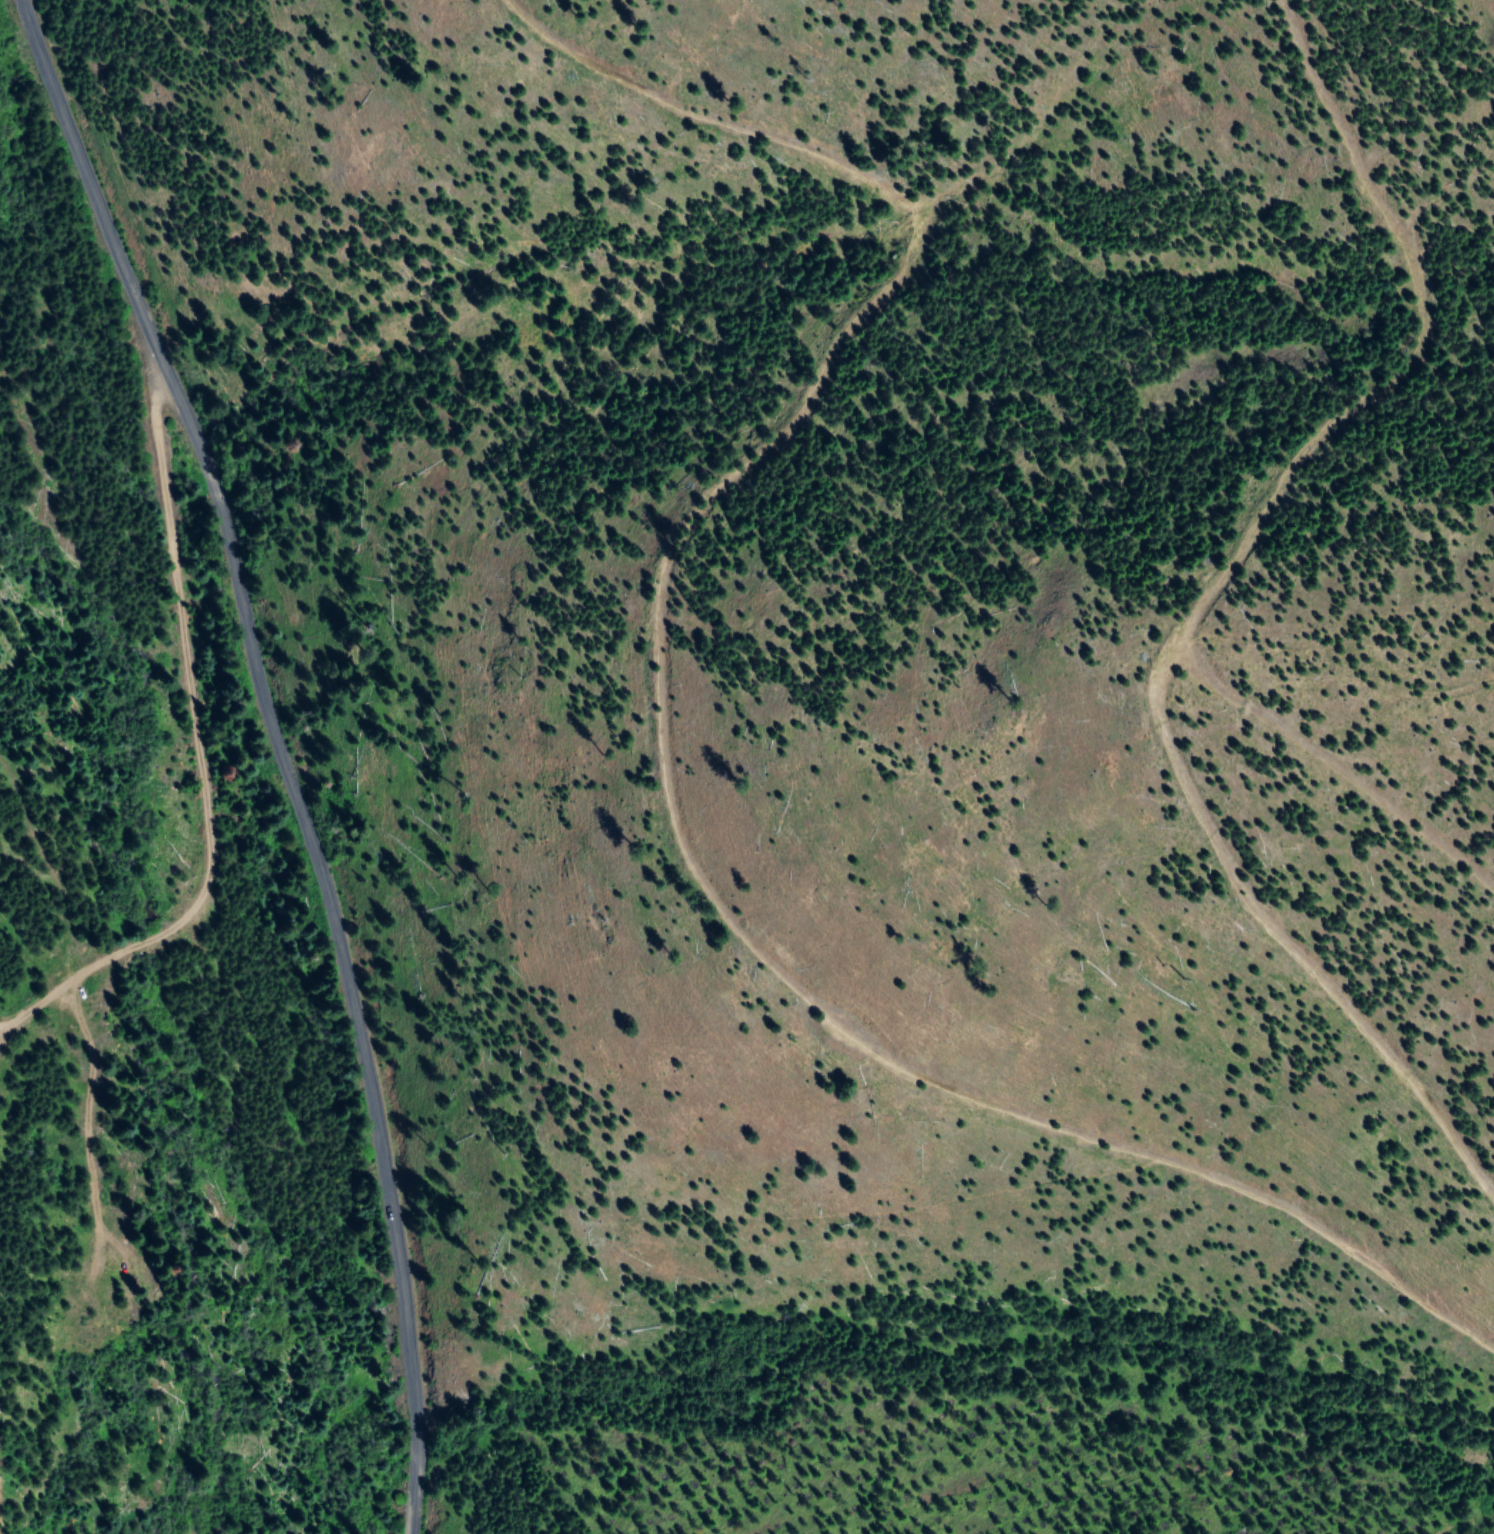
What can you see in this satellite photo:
road: (1440, 62)
road: (1105, 363)
road: (279, 749)
road: (1396, 910)
road: (177, 974)

